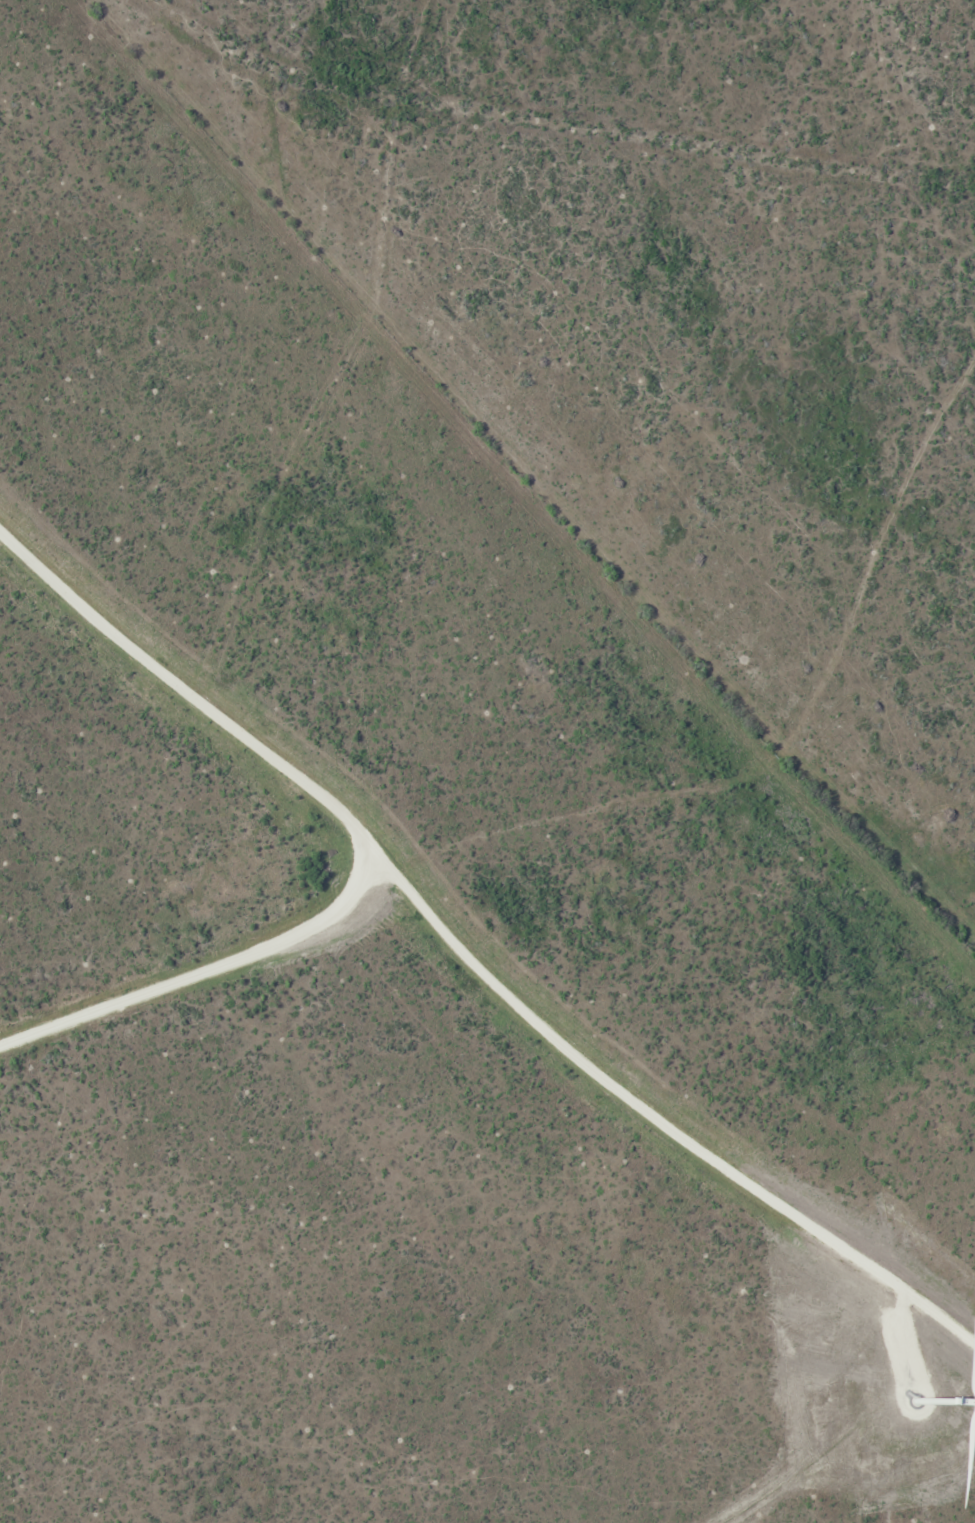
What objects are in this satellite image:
road: (470, 983)
wind turbine: (904, 1393)

